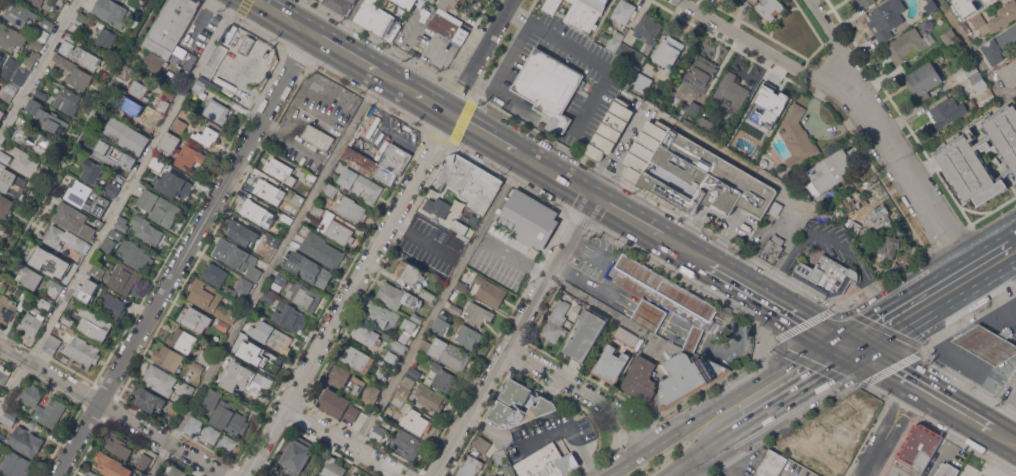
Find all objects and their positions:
building: (321, 0)
building: (432, 1)
building: (986, 1)
building: (41, 2)
building: (864, 2)
building: (407, 3)
building: (451, 4)
building: (341, 5)
building: (552, 5)
building: (769, 8)
building: (962, 10)
building: (624, 11)
building: (112, 12)
building: (19, 13)
building: (585, 13)
road: (285, 16)
building: (84, 17)
building: (886, 18)
building: (996, 18)
building: (377, 20)
road: (347, 22)
building: (448, 26)
building: (648, 27)
building: (967, 28)
building: (44, 30)
building: (172, 31)
building: (949, 36)
building: (71, 37)
building: (105, 37)
building: (11, 38)
building: (613, 40)
building: (36, 44)
building: (246, 44)
building: (908, 44)
building: (1000, 45)
road: (839, 47)
road: (975, 49)
road: (345, 51)
building: (668, 51)
road: (771, 51)
building: (631, 54)
building: (82, 56)
building: (31, 57)
building: (2, 59)
road: (39, 67)
building: (13, 70)
building: (966, 70)
building: (163, 71)
building: (75, 72)
building: (1009, 73)
building: (699, 75)
building: (924, 80)
road: (395, 81)
building: (979, 82)
building: (641, 83)
building: (200, 86)
building: (549, 86)
building: (138, 88)
building: (8, 90)
building: (730, 92)
building: (168, 93)
building: (41, 94)
road: (1012, 96)
building: (67, 100)
road: (433, 103)
building: (163, 105)
building: (129, 107)
building: (572, 109)
building: (690, 109)
building: (216, 110)
building: (766, 110)
building: (947, 111)
building: (2, 114)
building: (45, 116)
building: (706, 121)
building: (179, 125)
building: (148, 126)
building: (117, 128)
building: (609, 130)
road: (483, 133)
building: (207, 136)
building: (318, 136)
road: (81, 137)
building: (797, 137)
building: (142, 138)
building: (47, 140)
building: (170, 142)
building: (734, 143)
building: (134, 148)
building: (645, 150)
building: (101, 152)
building: (5, 156)
building: (981, 157)
building: (189, 158)
building: (25, 161)
building: (380, 162)
building: (157, 163)
building: (279, 167)
building: (92, 170)
building: (830, 171)
building: (312, 174)
road: (556, 174)
building: (703, 178)
road: (910, 179)
building: (468, 181)
building: (12, 182)
building: (361, 184)
building: (172, 185)
building: (112, 189)
building: (330, 189)
building: (267, 190)
building: (87, 198)
building: (298, 200)
building: (852, 202)
road: (117, 204)
building: (5, 206)
building: (437, 206)
building: (159, 207)
building: (776, 208)
building: (351, 209)
building: (317, 211)
building: (259, 213)
road: (630, 217)
building: (286, 218)
building: (529, 218)
building: (878, 218)
building: (74, 220)
building: (98, 223)
building: (1, 224)
building: (122, 225)
road: (1012, 228)
building: (146, 230)
building: (460, 230)
building: (242, 232)
building: (339, 232)
building: (116, 234)
building: (64, 239)
road: (383, 239)
building: (273, 241)
building: (107, 245)
building: (887, 245)
road: (984, 245)
building: (773, 248)
road: (687, 249)
building: (322, 250)
road: (184, 254)
building: (134, 255)
building: (43, 256)
building: (237, 257)
building: (72, 267)
building: (309, 269)
building: (97, 271)
building: (409, 272)
building: (214, 274)
road: (265, 274)
road: (969, 274)
building: (827, 276)
building: (30, 277)
road: (997, 277)
building: (122, 278)
road: (739, 278)
building: (281, 280)
building: (240, 286)
building: (462, 286)
building: (54, 287)
road: (1008, 288)
building: (87, 290)
building: (20, 291)
building: (489, 291)
building: (427, 294)
building: (304, 295)
building: (664, 295)
building: (269, 296)
building: (397, 296)
road: (896, 296)
building: (211, 300)
road: (442, 302)
building: (44, 303)
building: (112, 304)
building: (22, 305)
building: (7, 308)
building: (455, 308)
road: (611, 312)
building: (381, 313)
building: (477, 313)
road: (799, 313)
building: (649, 315)
road: (1001, 315)
building: (290, 317)
building: (417, 317)
building: (195, 318)
building: (67, 321)
road: (924, 321)
building: (556, 322)
building: (31, 324)
building: (441, 324)
building: (63, 325)
building: (223, 325)
building: (409, 325)
building: (94, 326)
traffic signals: (833, 333)
building: (586, 334)
building: (366, 335)
building: (468, 335)
building: (272, 336)
road: (974, 336)
road: (517, 337)
building: (629, 337)
building: (244, 338)
building: (403, 339)
building: (182, 340)
road: (1015, 341)
road: (852, 343)
building: (988, 343)
building: (52, 344)
building: (399, 346)
road: (955, 348)
building: (81, 349)
road: (948, 350)
building: (446, 352)
traffic signals: (871, 353)
road: (1002, 353)
building: (168, 357)
building: (392, 357)
building: (357, 358)
building: (65, 359)
building: (203, 359)
building: (264, 359)
building: (611, 364)
building: (195, 366)
road: (897, 369)
building: (414, 371)
building: (382, 373)
building: (4, 374)
building: (339, 375)
building: (442, 377)
building: (641, 378)
building: (687, 378)
building: (160, 379)
building: (245, 379)
road: (970, 382)
building: (357, 385)
building: (405, 387)
building: (186, 390)
road: (589, 391)
building: (371, 393)
road: (936, 393)
building: (31, 395)
building: (429, 398)
road: (800, 398)
building: (147, 399)
building: (213, 399)
building: (398, 402)
road: (718, 403)
building: (339, 405)
building: (520, 405)
road: (955, 405)
building: (174, 408)
road: (113, 410)
building: (50, 412)
building: (385, 413)
building: (10, 417)
road: (977, 418)
building: (230, 419)
building: (419, 422)
building: (194, 426)
road: (892, 429)
building: (378, 432)
road: (570, 432)
building: (211, 433)
road: (1004, 434)
road: (635, 435)
building: (25, 441)
road: (349, 441)
road: (943, 442)
building: (227, 443)
building: (482, 443)
building: (119, 444)
building: (407, 444)
building: (1, 446)
building: (920, 448)
building: (297, 455)
building: (501, 456)
building: (145, 460)
road: (702, 460)
building: (547, 462)
building: (16, 463)
building: (770, 464)
building: (112, 465)
building: (470, 466)
building: (333, 467)
building: (509, 470)
building: (947, 470)
building: (177, 472)
building: (90, 473)
building: (354, 474)
building: (318, 475)
building: (361, 475)
building: (494, 475)

